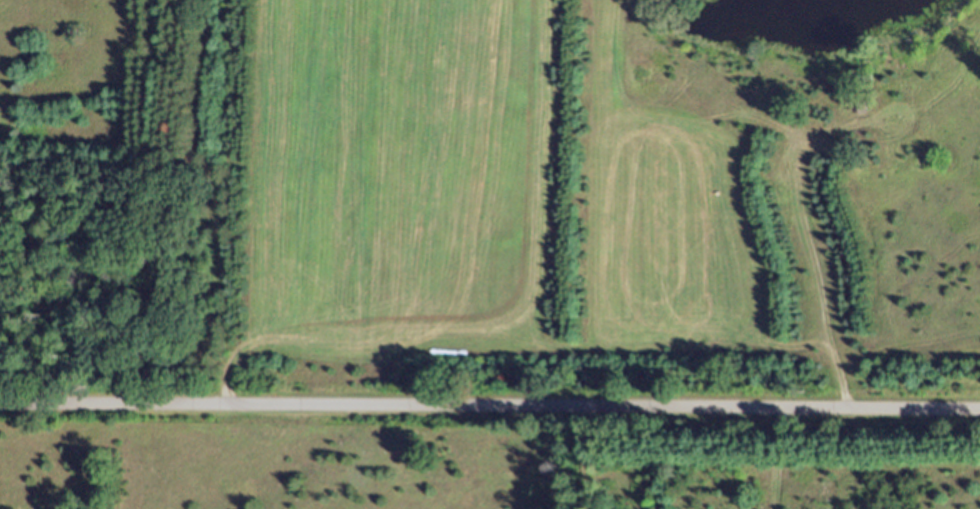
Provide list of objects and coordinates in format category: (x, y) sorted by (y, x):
road: (490, 406)
road: (775, 458)

